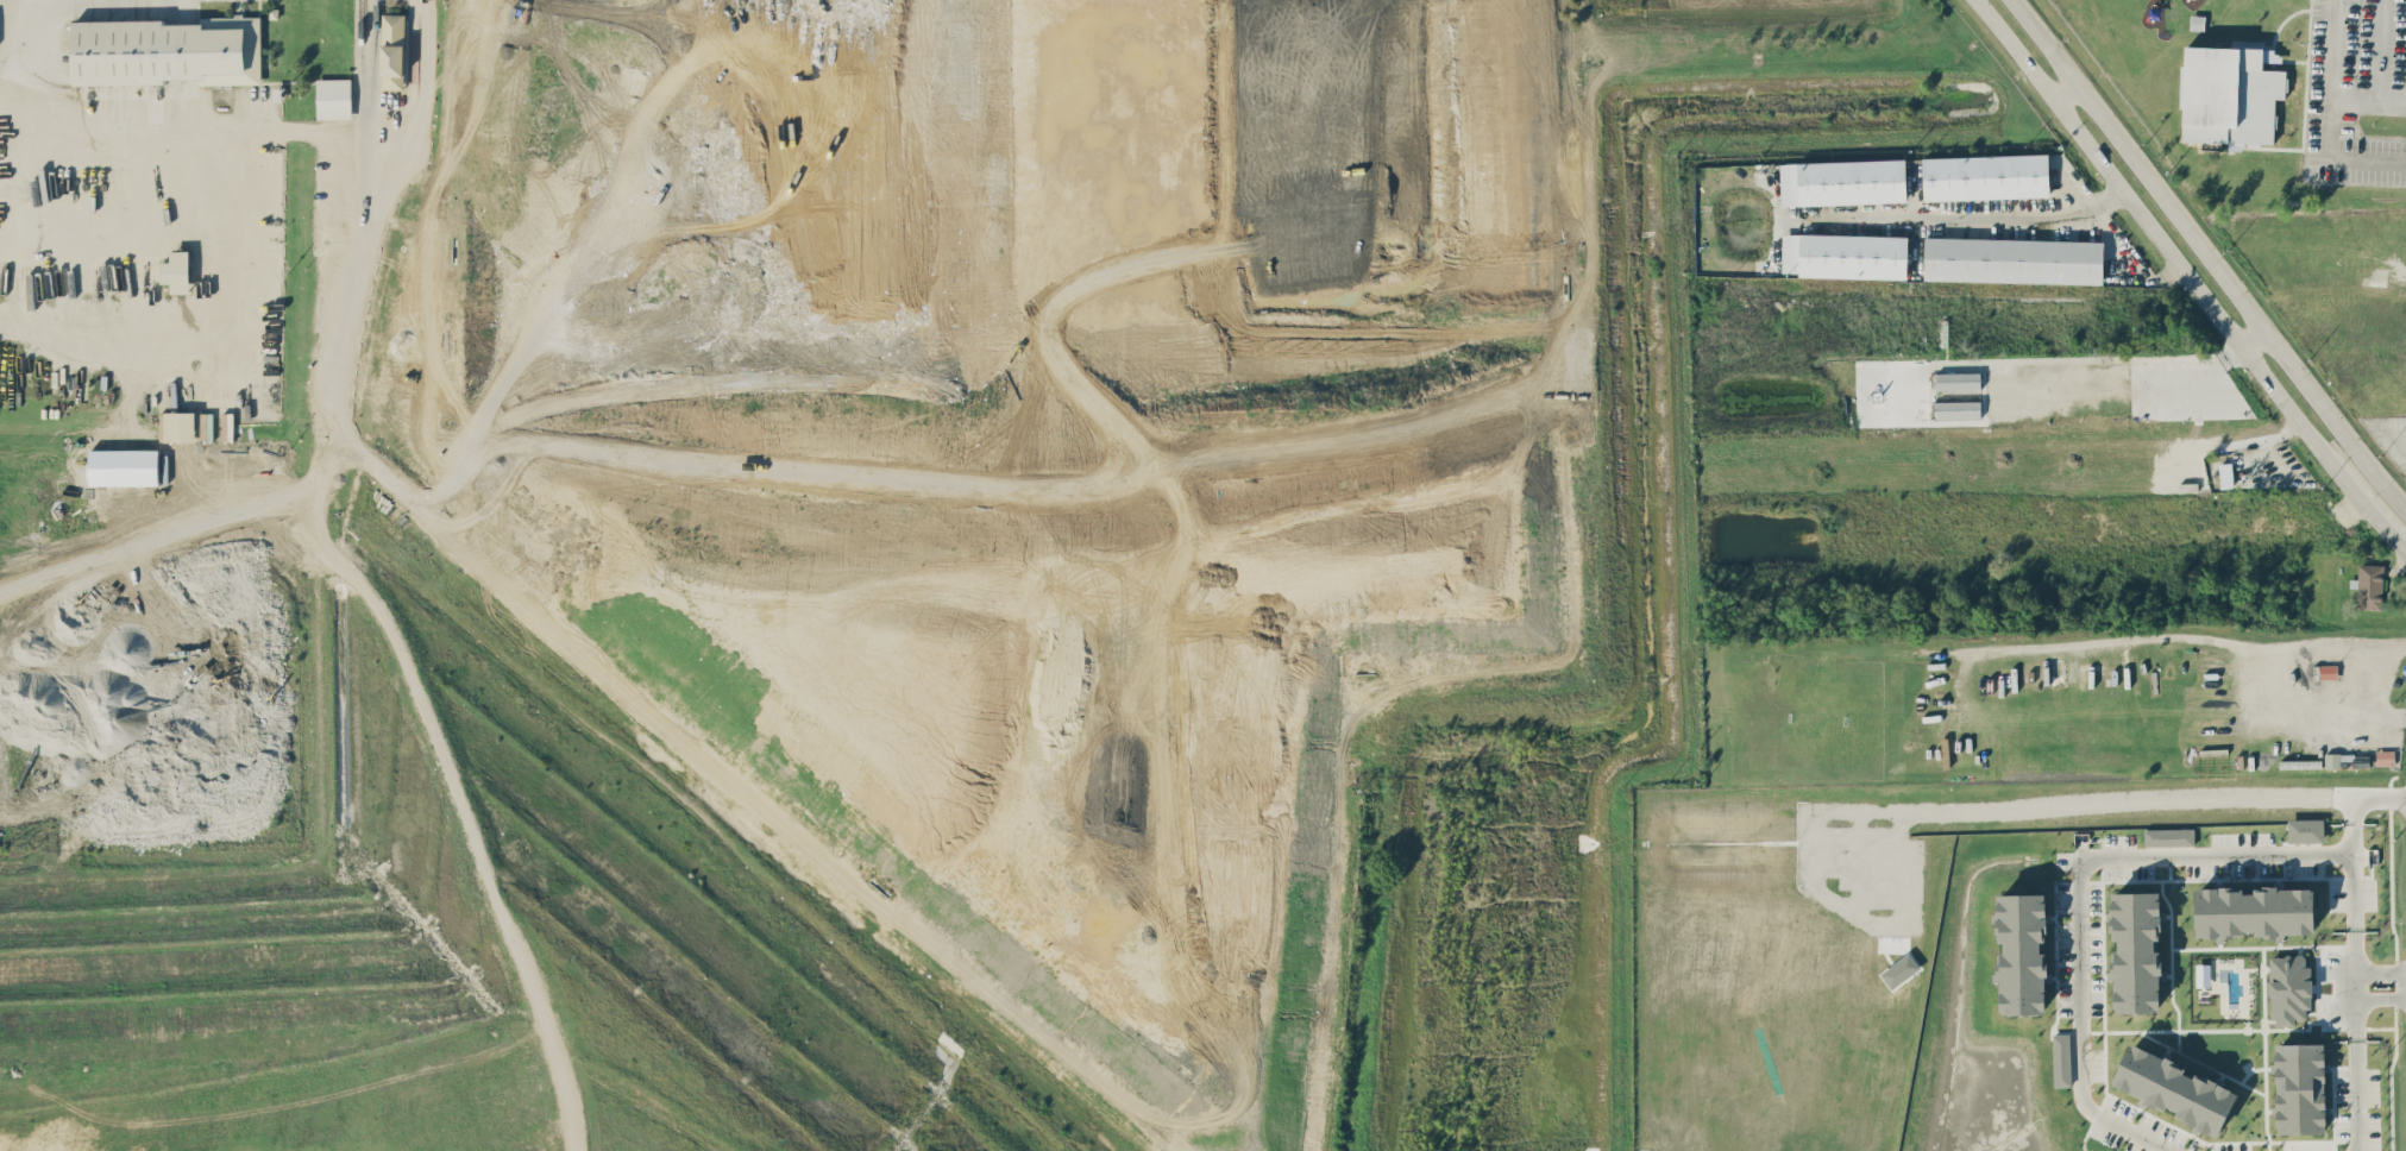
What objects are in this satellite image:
road: (34, 0)
building: (168, 50)
building: (392, 50)
road: (2383, 51)
road: (2332, 87)
road: (14, 90)
road: (2062, 90)
building: (2230, 94)
building: (334, 98)
road: (115, 134)
road: (2333, 162)
building: (1986, 176)
building: (1843, 181)
road: (222, 182)
road: (378, 196)
road: (1956, 214)
road: (2111, 238)
road: (224, 246)
road: (2165, 251)
road: (2207, 253)
building: (1845, 254)
building: (2014, 259)
road: (885, 262)
building: (177, 271)
road: (2155, 277)
road: (2255, 340)
road: (2060, 359)
building: (1958, 380)
building: (1958, 409)
building: (177, 426)
building: (124, 466)
road: (321, 509)
road: (2382, 523)
landfill: (867, 573)
building: (2369, 586)
road: (2140, 637)
road: (578, 649)
road: (2304, 652)
road: (850, 666)
building: (2328, 671)
road: (2376, 718)
building: (2332, 759)
building: (2301, 763)
road: (2115, 807)
road: (2352, 825)
road: (472, 829)
building: (2305, 830)
building: (2169, 836)
road: (2185, 853)
building: (2254, 911)
building: (2136, 950)
building: (2022, 951)
building: (2203, 974)
road: (2354, 982)
road: (2404, 983)
building: (2289, 988)
building: (2061, 1059)
building: (2300, 1087)
building: (2174, 1088)

